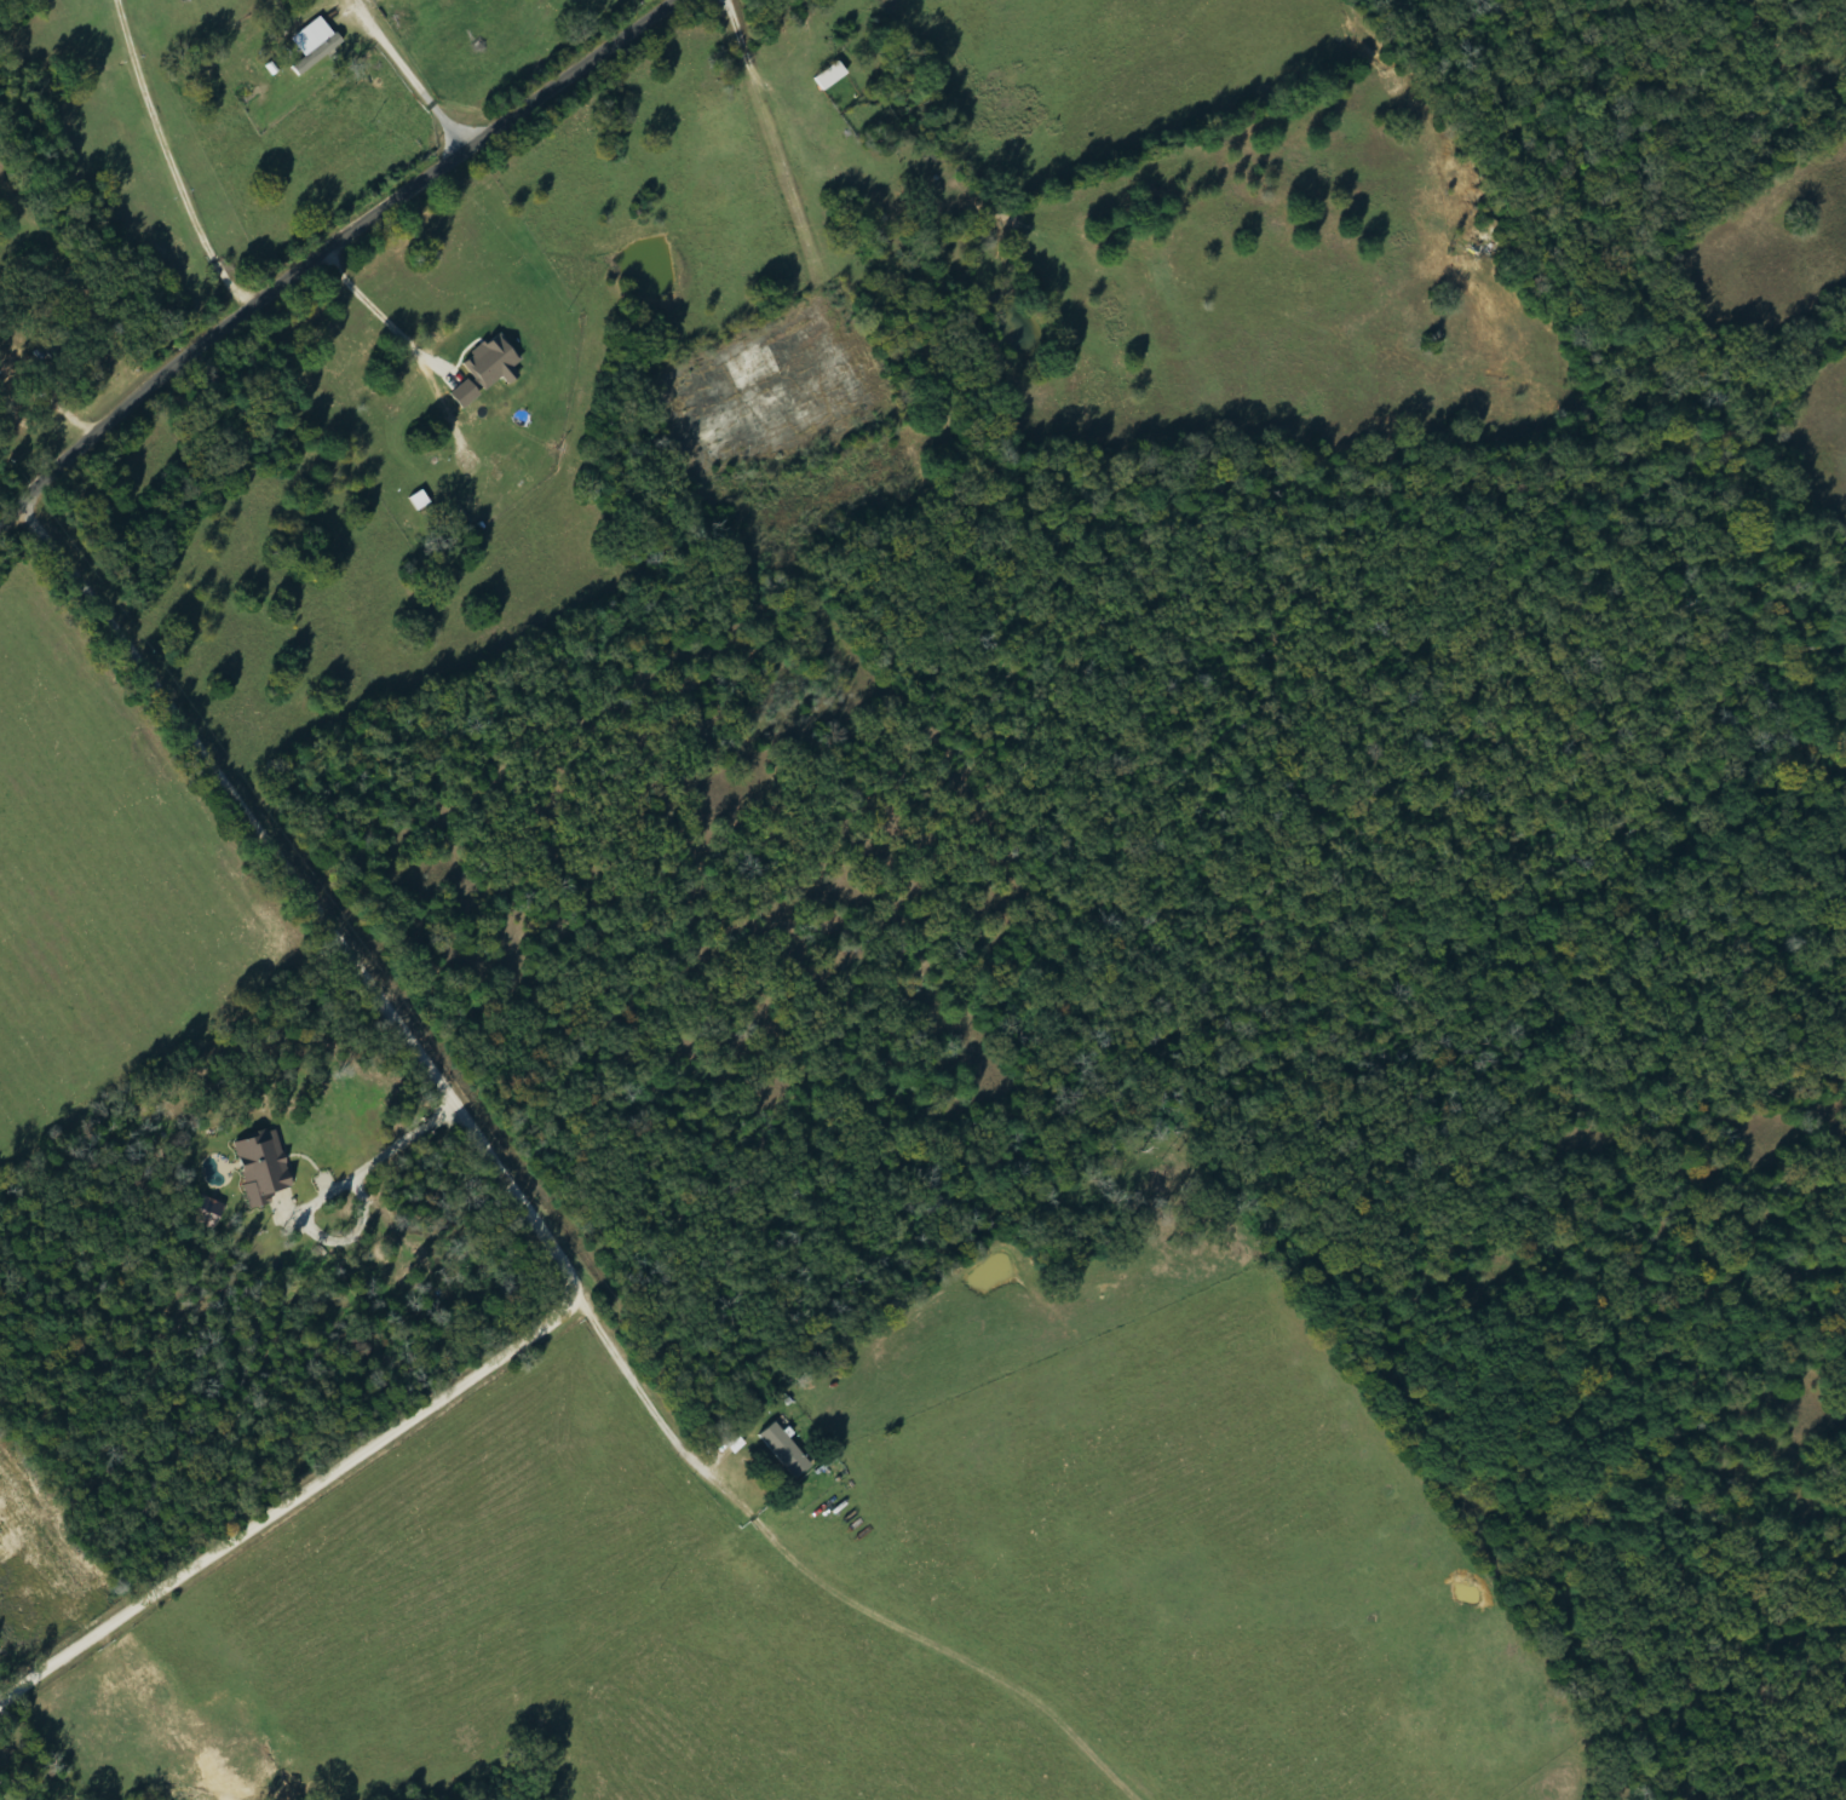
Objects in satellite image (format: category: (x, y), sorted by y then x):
building: (316, 45)
building: (833, 76)
road: (333, 253)
building: (494, 363)
building: (466, 393)
building: (264, 1166)
road: (525, 1195)
building: (209, 1213)
building: (788, 1450)
road: (833, 1587)

